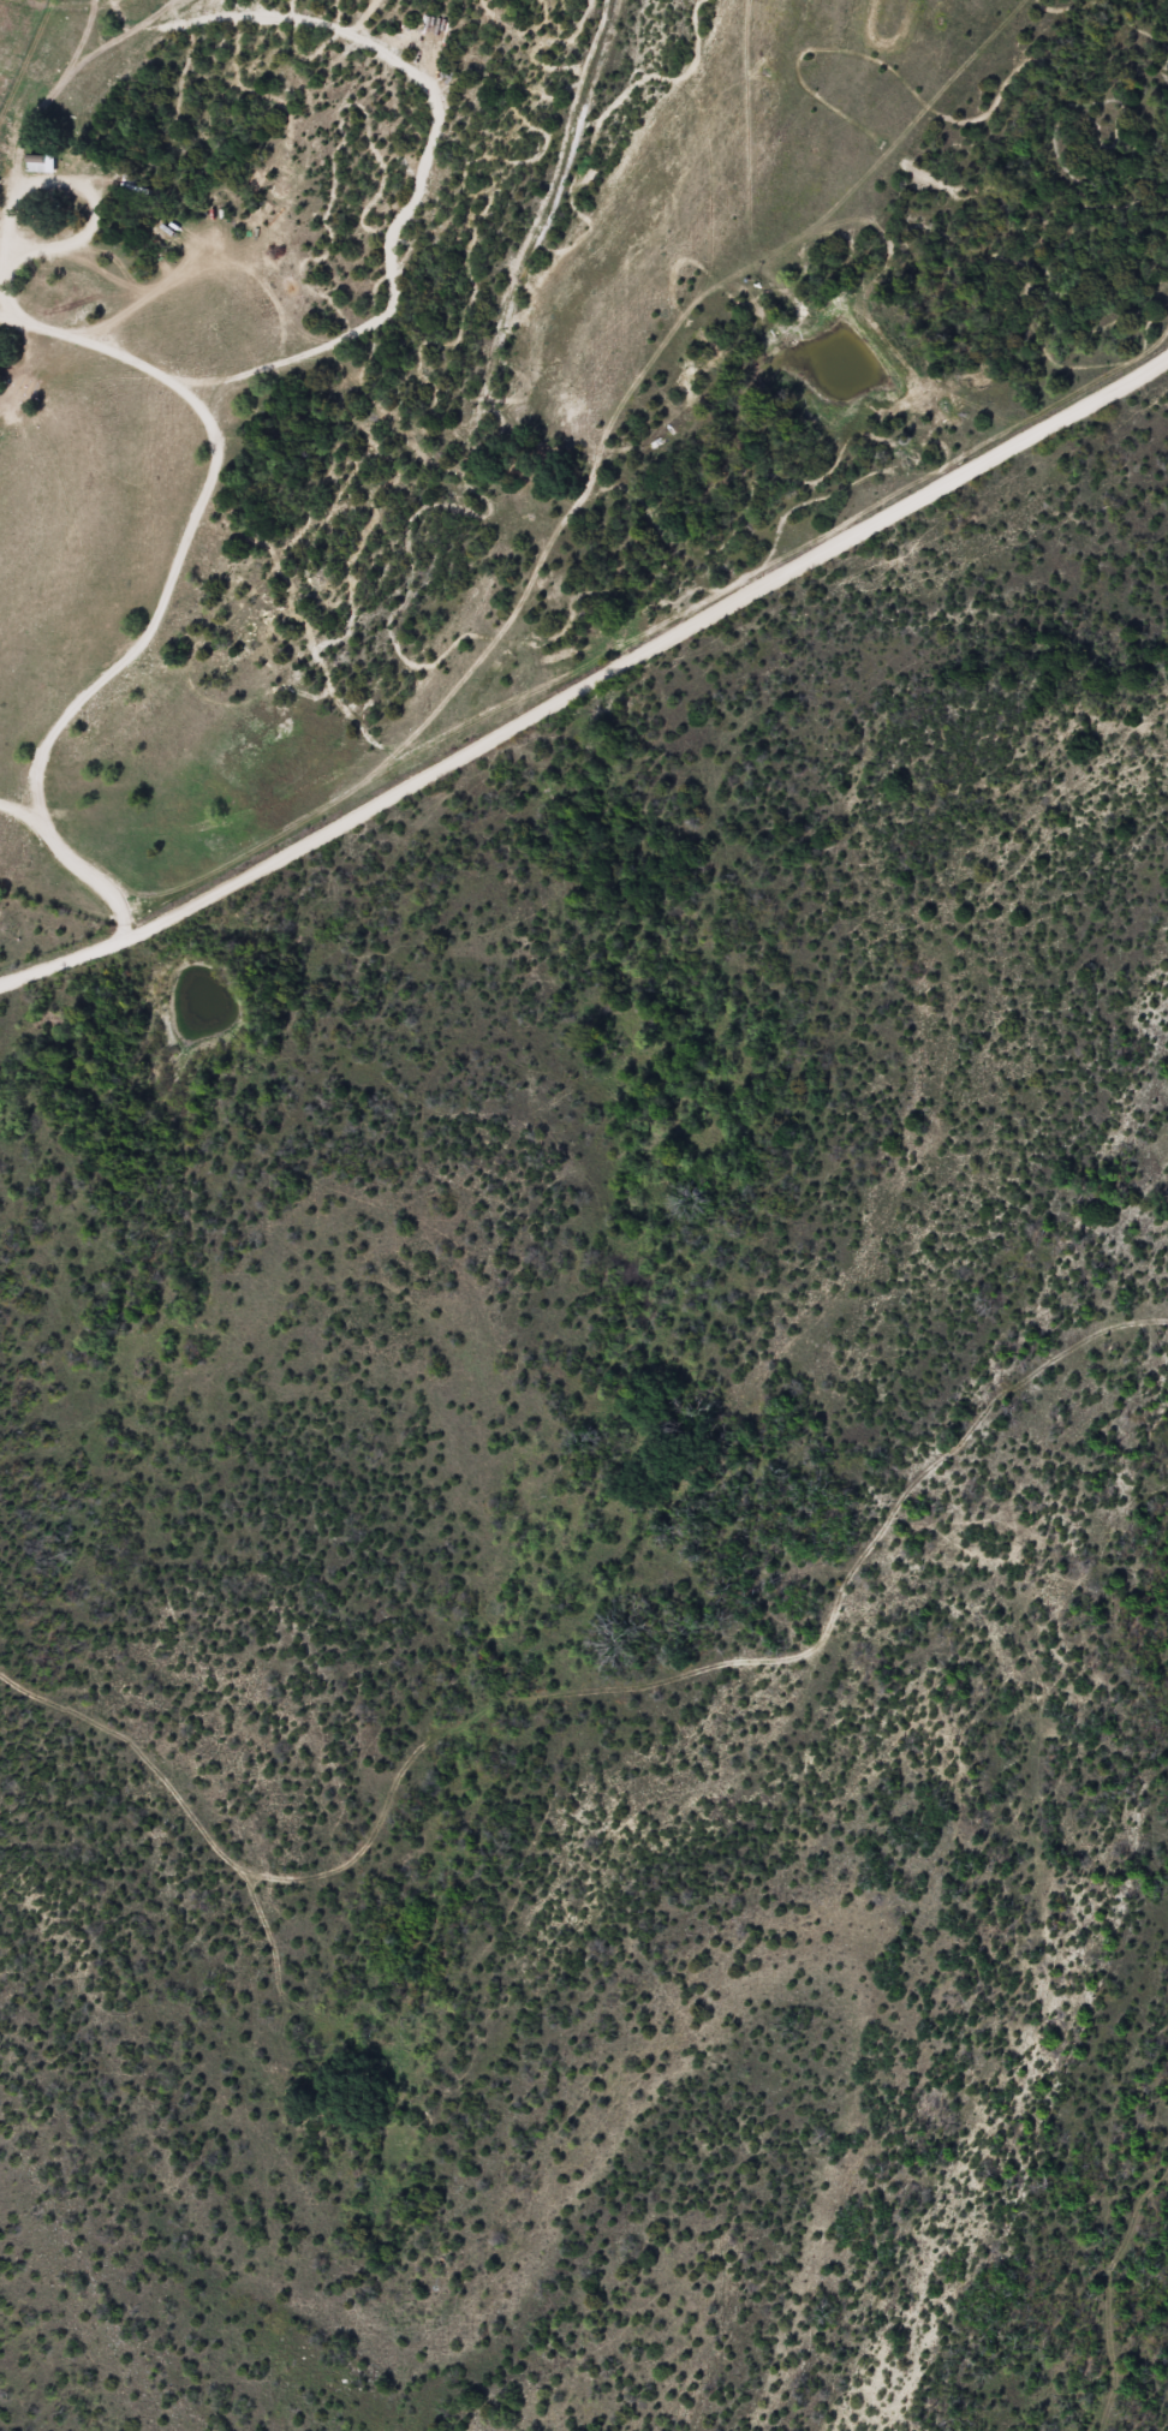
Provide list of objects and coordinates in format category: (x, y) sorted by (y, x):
building: (32, 166)
road: (586, 654)

